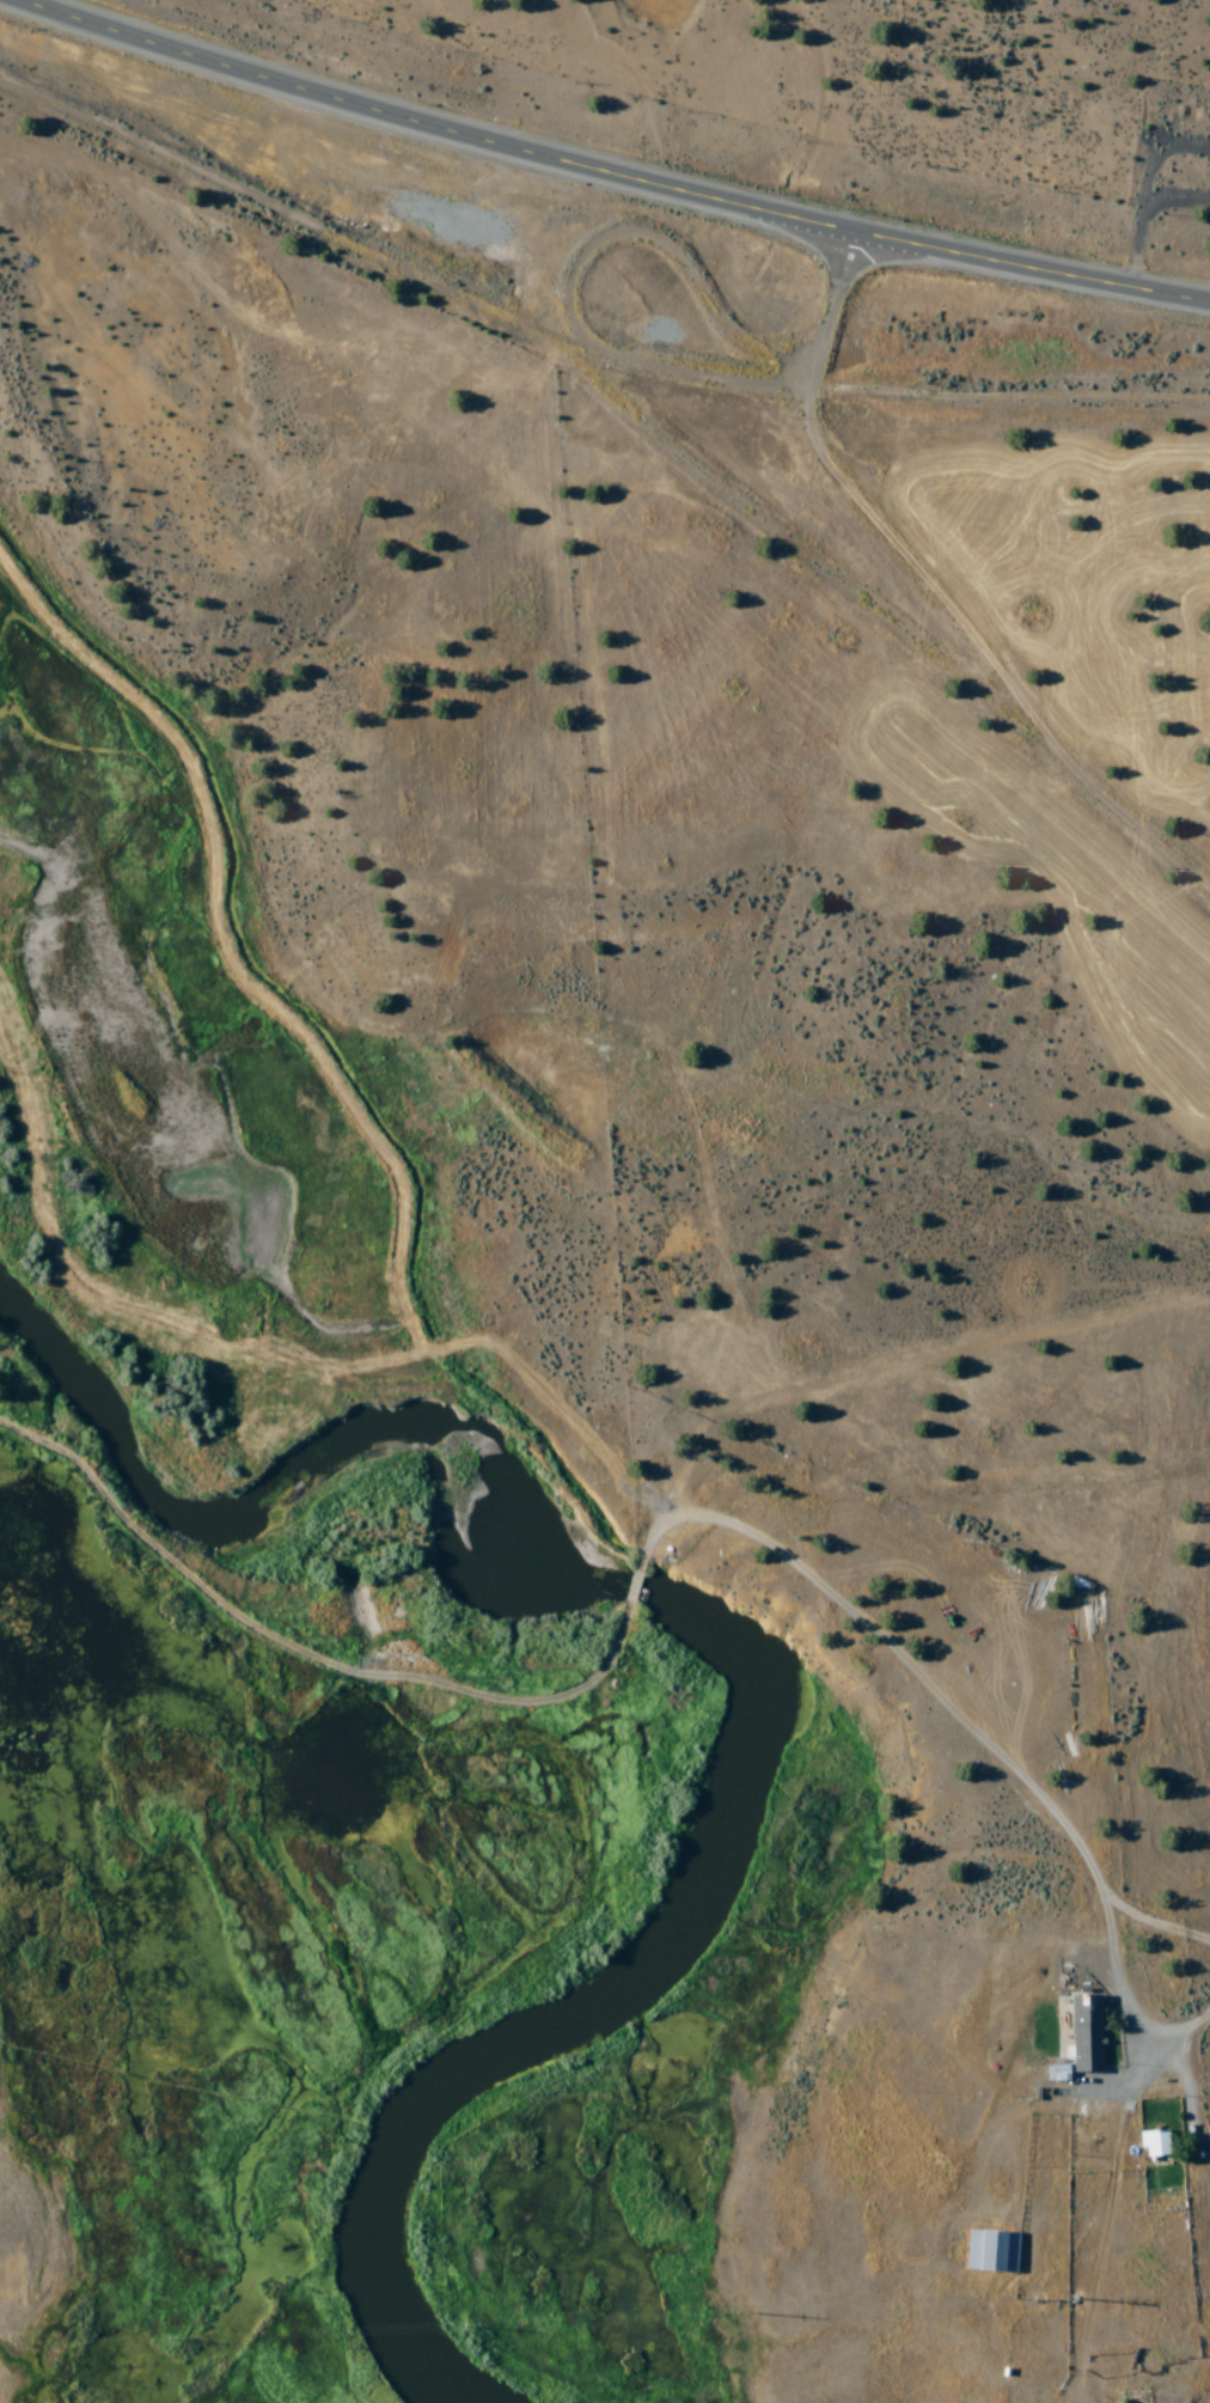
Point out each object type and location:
road: (610, 172)
river: (758, 1667)
building: (1082, 2041)
building: (1156, 2143)
building: (994, 2252)

